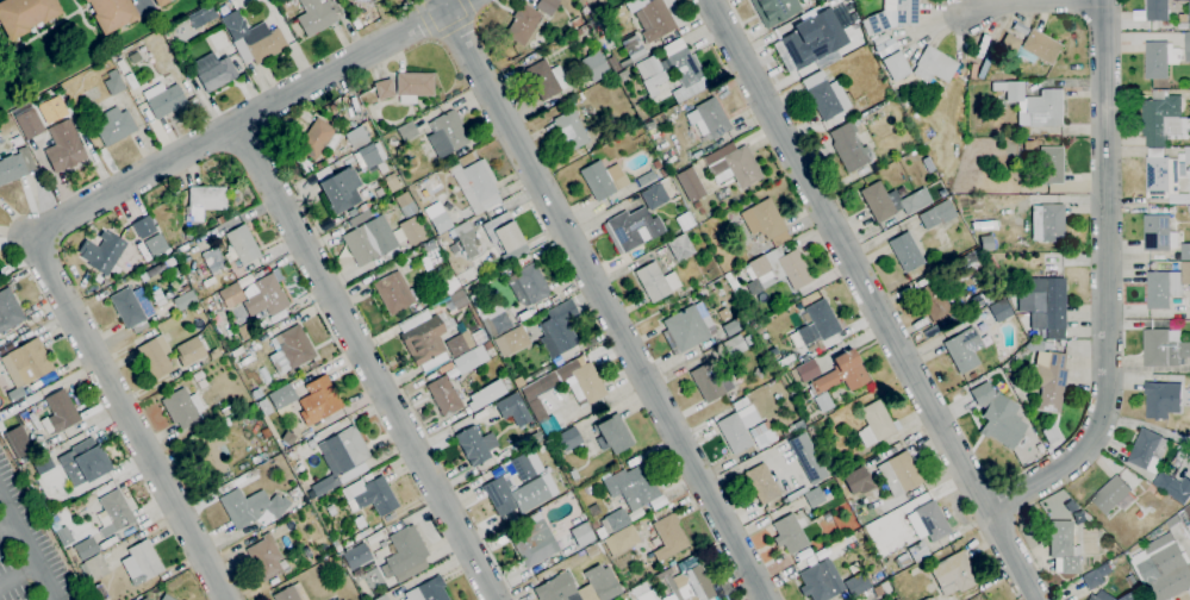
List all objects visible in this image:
building: (366, 0)
building: (825, 0)
building: (160, 2)
road: (990, 5)
road: (147, 6)
building: (547, 6)
building: (370, 8)
building: (774, 10)
building: (1189, 10)
building: (1153, 12)
building: (112, 13)
building: (25, 14)
building: (201, 15)
building: (316, 15)
building: (891, 15)
building: (588, 17)
building: (656, 20)
building: (575, 21)
building: (523, 24)
building: (1183, 26)
building: (577, 32)
building: (255, 37)
building: (173, 43)
building: (799, 43)
building: (1010, 43)
building: (883, 44)
building: (1040, 46)
building: (1186, 46)
building: (634, 49)
building: (825, 58)
building: (1160, 60)
building: (934, 64)
building: (593, 65)
building: (896, 65)
building: (217, 70)
building: (684, 70)
building: (650, 74)
building: (546, 80)
building: (113, 82)
building: (413, 86)
building: (384, 88)
building: (825, 96)
building: (163, 99)
building: (1034, 105)
building: (50, 108)
road: (245, 118)
building: (711, 119)
building: (1163, 119)
building: (29, 123)
building: (114, 125)
building: (571, 130)
building: (407, 131)
building: (446, 133)
building: (359, 136)
building: (318, 138)
building: (1029, 144)
building: (64, 145)
building: (849, 146)
building: (372, 155)
building: (1184, 156)
building: (15, 164)
building: (303, 164)
building: (656, 164)
building: (733, 164)
building: (1051, 164)
building: (662, 173)
building: (413, 174)
building: (1163, 174)
building: (647, 177)
building: (598, 181)
building: (391, 182)
building: (475, 185)
building: (690, 185)
building: (337, 187)
building: (723, 193)
building: (653, 195)
building: (891, 201)
building: (204, 202)
building: (405, 205)
building: (697, 205)
building: (1189, 210)
building: (702, 211)
building: (937, 214)
building: (436, 218)
building: (220, 219)
building: (765, 221)
building: (1047, 223)
building: (634, 227)
building: (412, 231)
building: (504, 231)
building: (188, 233)
building: (1158, 233)
building: (466, 238)
building: (369, 240)
building: (986, 242)
building: (199, 243)
building: (156, 244)
building: (239, 246)
building: (680, 246)
building: (905, 251)
building: (104, 252)
building: (1185, 252)
building: (432, 254)
building: (213, 261)
building: (991, 263)
building: (967, 264)
building: (157, 268)
building: (779, 268)
building: (182, 275)
building: (655, 281)
road: (1105, 283)
building: (528, 285)
building: (734, 285)
building: (1166, 287)
building: (185, 288)
building: (447, 289)
building: (393, 293)
building: (231, 295)
building: (267, 295)
road: (604, 299)
building: (671, 299)
road: (873, 299)
building: (185, 300)
building: (459, 300)
building: (934, 301)
building: (1045, 304)
building: (132, 307)
building: (8, 310)
building: (999, 310)
building: (1189, 310)
building: (723, 313)
building: (491, 317)
building: (816, 324)
building: (689, 327)
building: (731, 327)
building: (559, 329)
building: (423, 339)
building: (749, 339)
building: (465, 340)
building: (511, 342)
building: (734, 345)
building: (1034, 345)
building: (294, 346)
building: (965, 348)
building: (1164, 348)
building: (191, 350)
building: (214, 354)
building: (155, 356)
building: (474, 357)
road: (366, 362)
building: (24, 368)
building: (444, 368)
building: (805, 370)
building: (841, 374)
building: (198, 375)
building: (208, 380)
building: (1049, 381)
building: (203, 382)
building: (710, 382)
building: (586, 383)
building: (27, 389)
building: (487, 394)
building: (444, 395)
building: (282, 396)
building: (318, 400)
building: (1163, 400)
building: (823, 402)
building: (740, 404)
building: (264, 406)
building: (183, 407)
building: (512, 410)
building: (537, 410)
building: (250, 411)
building: (58, 412)
building: (998, 415)
road: (126, 418)
building: (876, 424)
building: (797, 425)
building: (535, 427)
building: (737, 427)
building: (266, 431)
building: (612, 435)
building: (534, 437)
building: (288, 438)
building: (568, 438)
building: (475, 445)
building: (507, 451)
building: (1148, 451)
building: (339, 456)
building: (806, 457)
building: (1179, 458)
building: (91, 460)
building: (42, 462)
building: (524, 465)
building: (573, 474)
building: (899, 474)
building: (367, 476)
building: (855, 480)
building: (762, 483)
building: (631, 486)
building: (1173, 487)
building: (294, 493)
building: (370, 495)
building: (1110, 495)
building: (500, 496)
building: (814, 496)
building: (656, 501)
building: (251, 506)
building: (330, 510)
building: (593, 510)
building: (1188, 511)
building: (114, 512)
building: (635, 513)
building: (1079, 518)
building: (359, 521)
building: (928, 521)
road: (7, 523)
building: (612, 523)
building: (361, 533)
building: (790, 533)
building: (64, 535)
building: (581, 535)
building: (668, 537)
building: (621, 539)
building: (534, 543)
building: (335, 544)
road: (29, 545)
parking lot: (27, 548)
building: (86, 548)
building: (1064, 548)
building: (306, 550)
building: (591, 550)
building: (917, 551)
building: (355, 555)
building: (405, 555)
building: (264, 556)
building: (73, 557)
building: (145, 558)
building: (99, 565)
road: (19, 571)
building: (1166, 574)
building: (952, 575)
building: (1096, 577)
building: (822, 580)
building: (176, 582)
building: (602, 582)
building: (696, 583)
building: (856, 585)
building: (557, 588)
building: (428, 590)
building: (878, 590)
building: (98, 593)
building: (291, 593)
building: (642, 593)
building: (167, 596)
building: (1133, 596)
building: (381, 598)
building: (1092, 598)
building: (334, 599)
building: (337, 599)
building: (896, 599)

